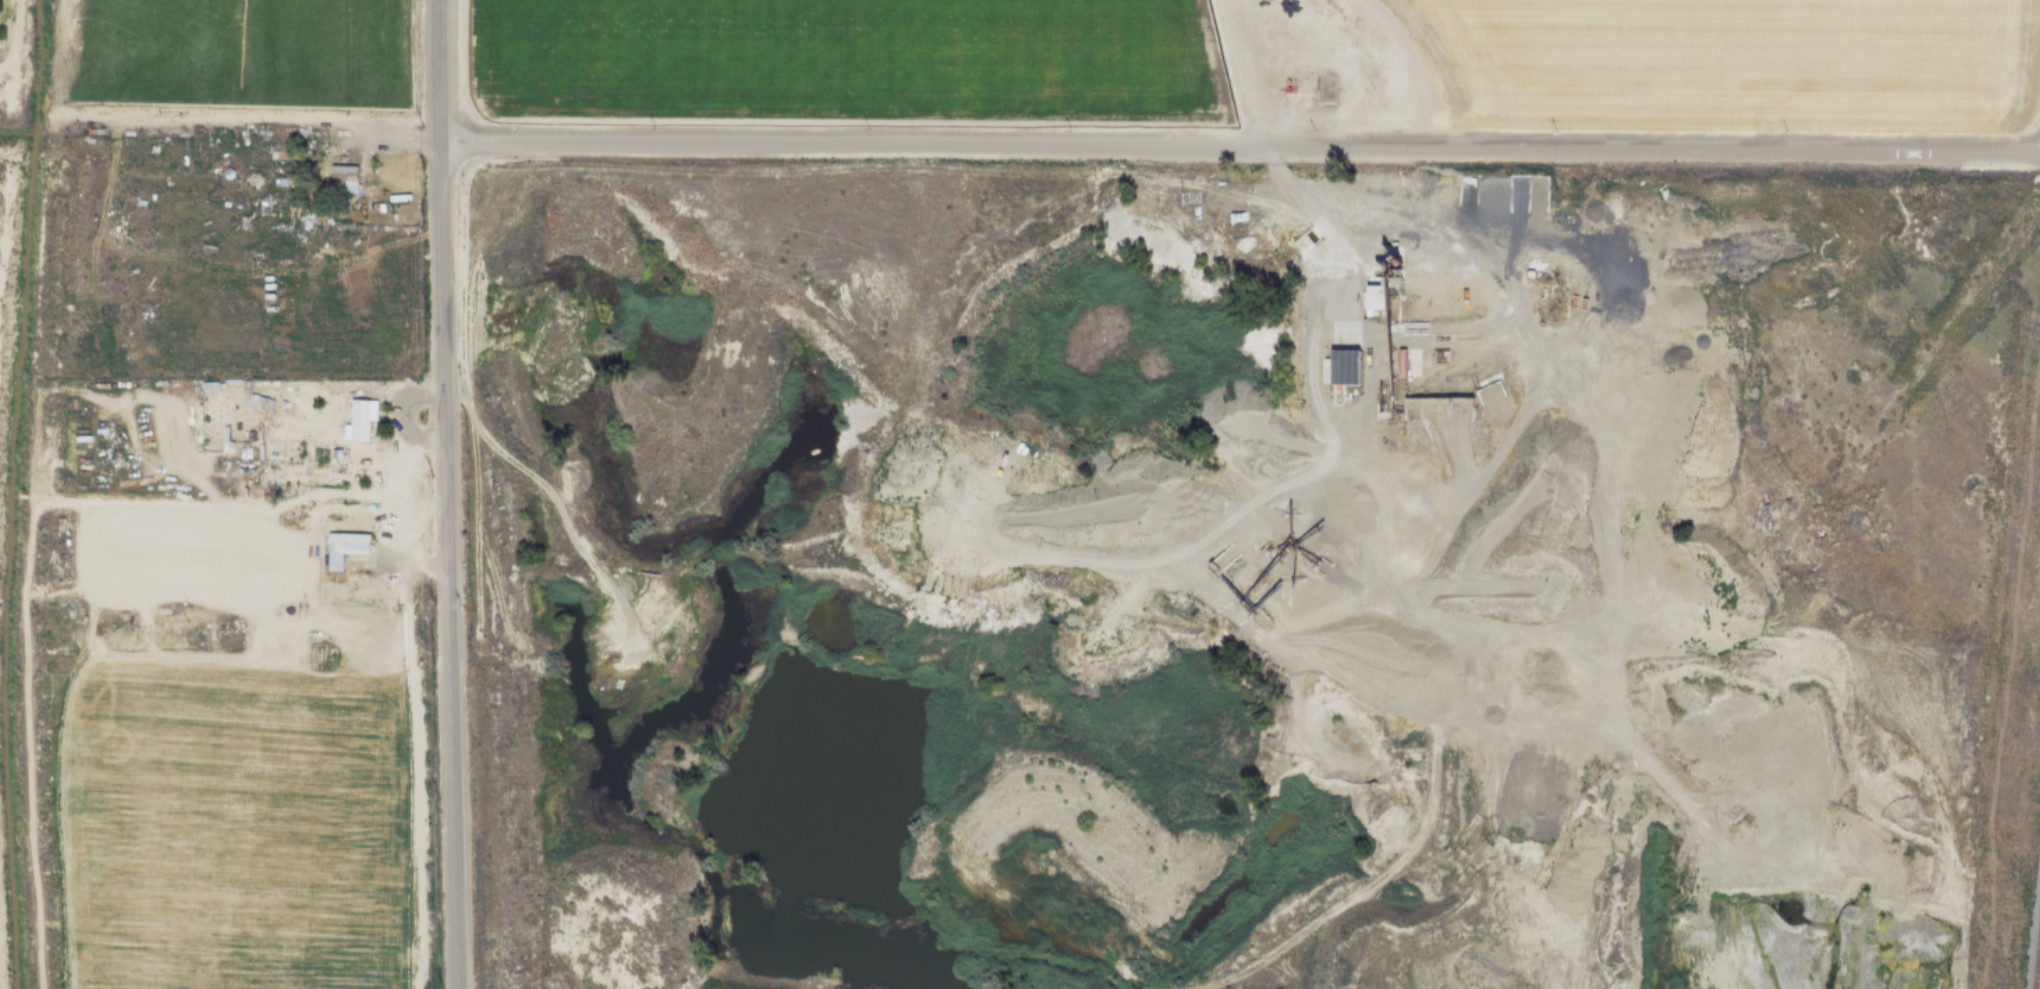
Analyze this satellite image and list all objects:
road: (16, 35)
road: (1298, 41)
road: (1239, 73)
road: (204, 118)
road: (364, 136)
road: (1241, 146)
building: (284, 160)
building: (1442, 174)
building: (1490, 174)
building: (1530, 174)
building: (228, 176)
silo: (228, 176)
building: (341, 183)
building: (1412, 189)
building: (1461, 189)
building: (1442, 190)
building: (1480, 190)
building: (1549, 194)
building: (1512, 195)
building: (1530, 195)
building: (1321, 234)
building: (1306, 237)
building: (1313, 241)
building: (1307, 244)
building: (1317, 247)
building: (1301, 250)
building: (1388, 271)
road: (188, 284)
building: (1375, 298)
road: (1511, 306)
road: (1418, 327)
road: (1381, 328)
building: (1418, 328)
road: (1689, 358)
building: (1343, 364)
road: (1375, 367)
building: (1452, 378)
building: (1486, 379)
building: (1437, 396)
building: (260, 402)
building: (1471, 406)
building: (1405, 407)
building: (1420, 407)
building: (1445, 408)
road: (1499, 414)
road: (404, 417)
building: (357, 422)
building: (226, 440)
road: (1508, 440)
road: (340, 443)
road: (1459, 444)
road: (1405, 448)
road: (1854, 462)
road: (1279, 463)
road: (444, 494)
road: (1365, 497)
road: (264, 516)
road: (1496, 523)
road: (570, 525)
road: (1253, 541)
building: (1299, 542)
building: (345, 546)
building: (1284, 550)
building: (1227, 551)
road: (412, 562)
building: (1236, 562)
quarry: (1247, 563)
building: (1321, 564)
building: (1333, 564)
building: (1222, 565)
building: (1325, 574)
building: (1263, 575)
building: (1235, 588)
road: (1360, 595)
road: (293, 596)
building: (1268, 596)
building: (1259, 614)
building: (1270, 617)
building: (1260, 624)
road: (1274, 631)
road: (1622, 634)
road: (378, 681)
road: (27, 745)
road: (413, 775)
road: (181, 817)
road: (1709, 827)
building: (1191, 896)
railway: (2037, 961)
building: (1262, 980)

